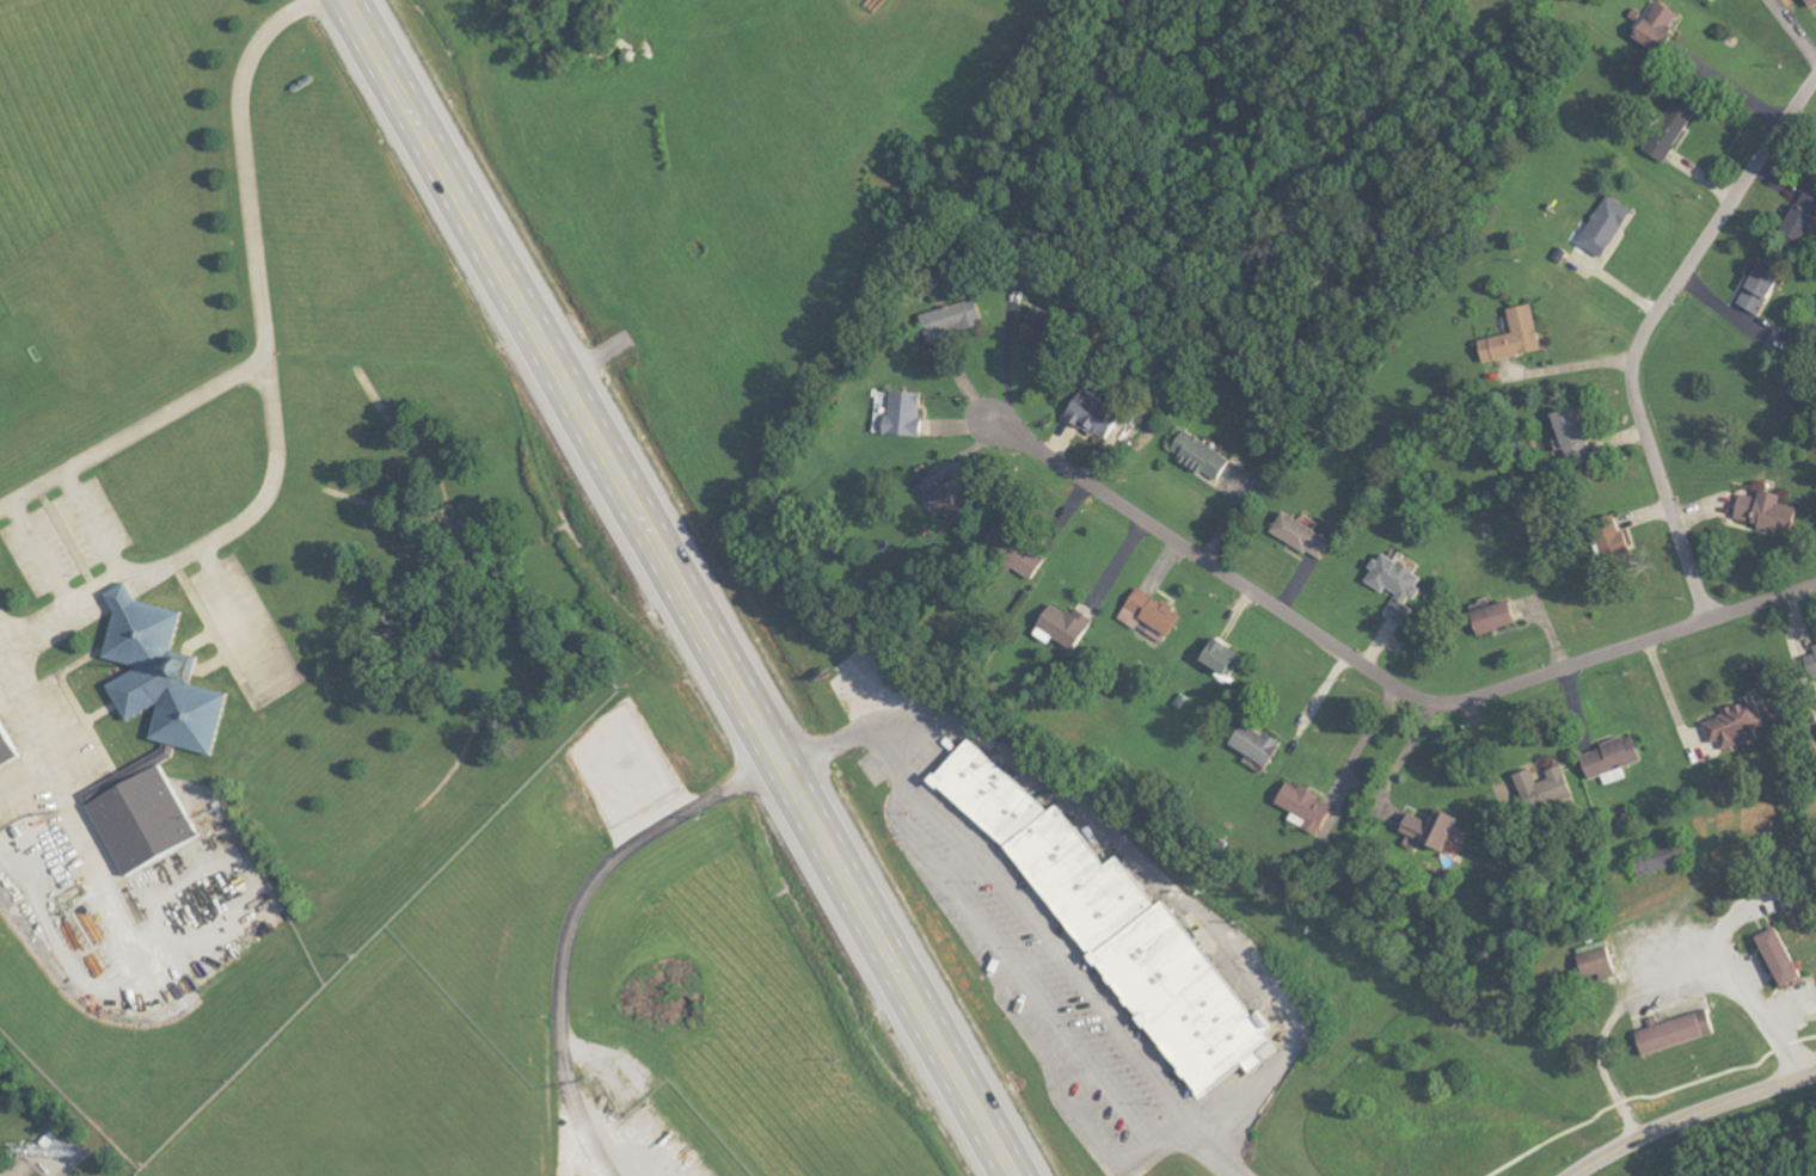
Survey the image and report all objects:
building: (1814, 4)
building: (1662, 29)
road: (1793, 30)
road: (1732, 88)
building: (1674, 129)
building: (1805, 215)
building: (1608, 227)
building: (1765, 287)
building: (955, 320)
building: (1042, 330)
road: (1645, 331)
building: (1517, 337)
road: (1575, 365)
road: (268, 398)
building: (906, 413)
building: (1099, 414)
road: (131, 431)
building: (1577, 436)
building: (1210, 460)
building: (952, 504)
building: (1771, 512)
building: (1306, 536)
building: (1017, 554)
road: (42, 558)
building: (1401, 584)
road: (682, 586)
building: (1153, 616)
building: (1499, 618)
building: (1068, 626)
building: (1226, 658)
building: (1812, 664)
building: (171, 677)
road: (1379, 681)
building: (1736, 726)
road: (50, 739)
building: (1260, 745)
building: (7, 747)
road: (1399, 755)
building: (1615, 757)
building: (1729, 786)
building: (1308, 804)
building: (147, 821)
building: (1434, 829)
road: (1160, 881)
road: (1027, 915)
road: (572, 919)
parking lot: (1030, 947)
building: (1784, 958)
building: (1600, 963)
building: (1139, 969)
road: (1658, 983)
road: (1692, 1116)

